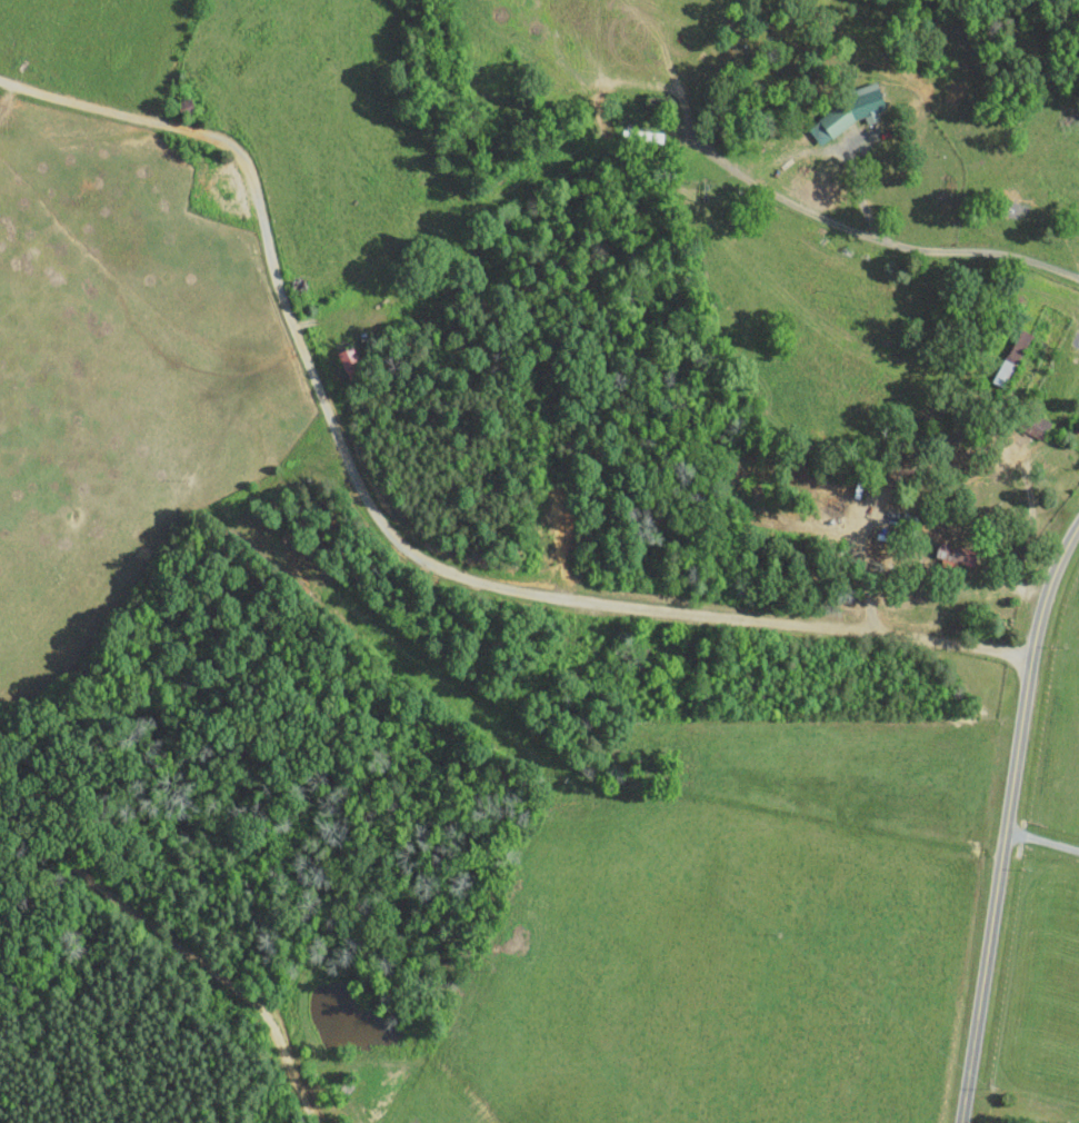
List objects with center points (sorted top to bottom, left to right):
building: (850, 111)
road: (877, 238)
building: (349, 358)
building: (1010, 362)
road: (389, 530)
building: (955, 555)
road: (1008, 822)
road: (1042, 841)

